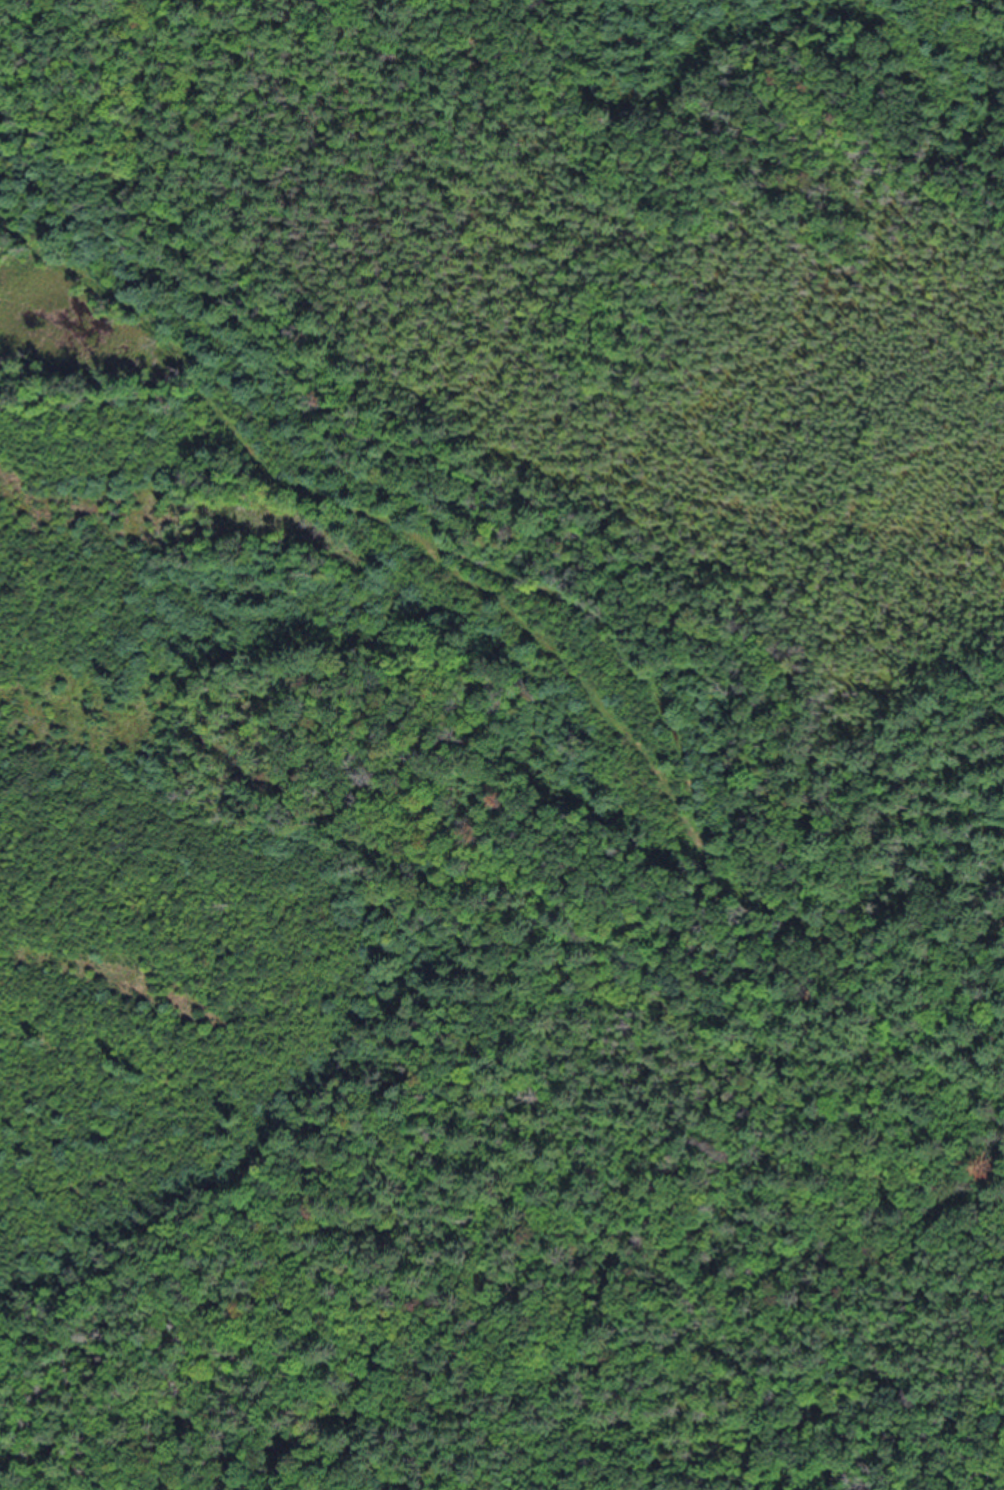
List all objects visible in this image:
park: (502, 745)

